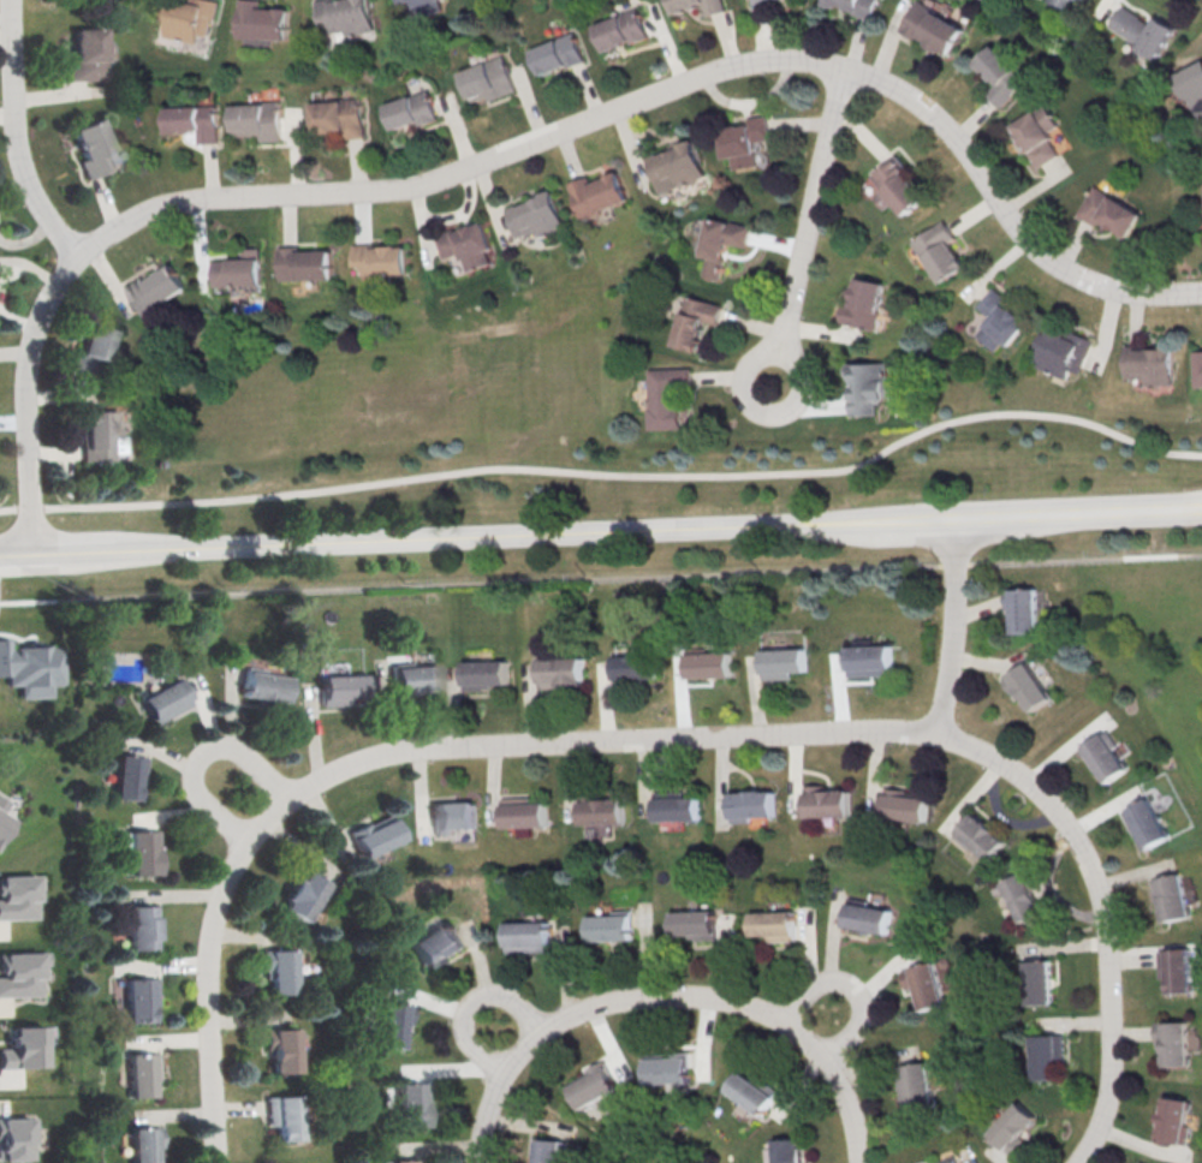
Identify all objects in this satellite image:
building: (761, 0)
building: (1077, 1)
building: (1052, 2)
building: (859, 4)
building: (419, 6)
building: (715, 7)
building: (346, 16)
building: (190, 18)
building: (262, 20)
building: (932, 26)
building: (621, 29)
building: (1146, 30)
building: (559, 53)
building: (87, 54)
building: (1001, 74)
building: (488, 79)
building: (1192, 84)
building: (412, 109)
building: (339, 117)
building: (195, 120)
building: (258, 120)
building: (1037, 133)
road: (19, 136)
building: (745, 141)
building: (91, 147)
road: (528, 147)
building: (678, 166)
building: (900, 185)
building: (599, 192)
building: (1111, 210)
building: (536, 213)
road: (807, 223)
building: (465, 240)
building: (720, 243)
building: (940, 250)
building: (381, 258)
building: (307, 263)
building: (239, 268)
building: (157, 288)
building: (865, 303)
building: (999, 318)
building: (696, 320)
building: (91, 348)
building: (1063, 352)
building: (1149, 363)
building: (1197, 366)
building: (871, 384)
building: (668, 396)
building: (97, 433)
road: (609, 473)
road: (601, 531)
road: (600, 577)
building: (1023, 608)
road: (953, 627)
building: (868, 660)
building: (783, 662)
building: (709, 664)
building: (635, 667)
building: (30, 668)
building: (559, 670)
building: (486, 674)
building: (412, 676)
building: (1027, 685)
building: (261, 688)
building: (341, 690)
building: (165, 704)
road: (783, 733)
building: (1107, 755)
building: (127, 775)
road: (251, 799)
building: (1, 801)
building: (827, 801)
building: (751, 804)
building: (904, 804)
building: (677, 805)
building: (602, 810)
building: (525, 813)
building: (453, 816)
building: (2, 821)
building: (1147, 823)
building: (373, 835)
building: (980, 836)
building: (142, 851)
building: (1023, 894)
building: (18, 895)
building: (303, 895)
building: (1172, 896)
building: (868, 917)
building: (695, 924)
building: (775, 924)
building: (611, 926)
building: (141, 928)
building: (528, 936)
building: (435, 943)
building: (279, 968)
building: (1177, 968)
building: (23, 972)
building: (1037, 982)
building: (926, 985)
road: (853, 986)
building: (139, 997)
building: (394, 1024)
road: (801, 1036)
road: (507, 1037)
road: (532, 1037)
building: (1174, 1040)
building: (25, 1048)
building: (282, 1049)
road: (214, 1051)
building: (1046, 1055)
building: (668, 1068)
building: (143, 1073)
building: (593, 1084)
building: (915, 1086)
building: (752, 1091)
building: (413, 1103)
building: (286, 1116)
building: (1176, 1120)
building: (1012, 1126)
building: (14, 1138)
building: (147, 1144)
park: (667, 1144)
building: (548, 1150)
building: (787, 1150)
building: (948, 1159)
building: (406, 1161)
building: (921, 1161)
building: (1139, 1162)

